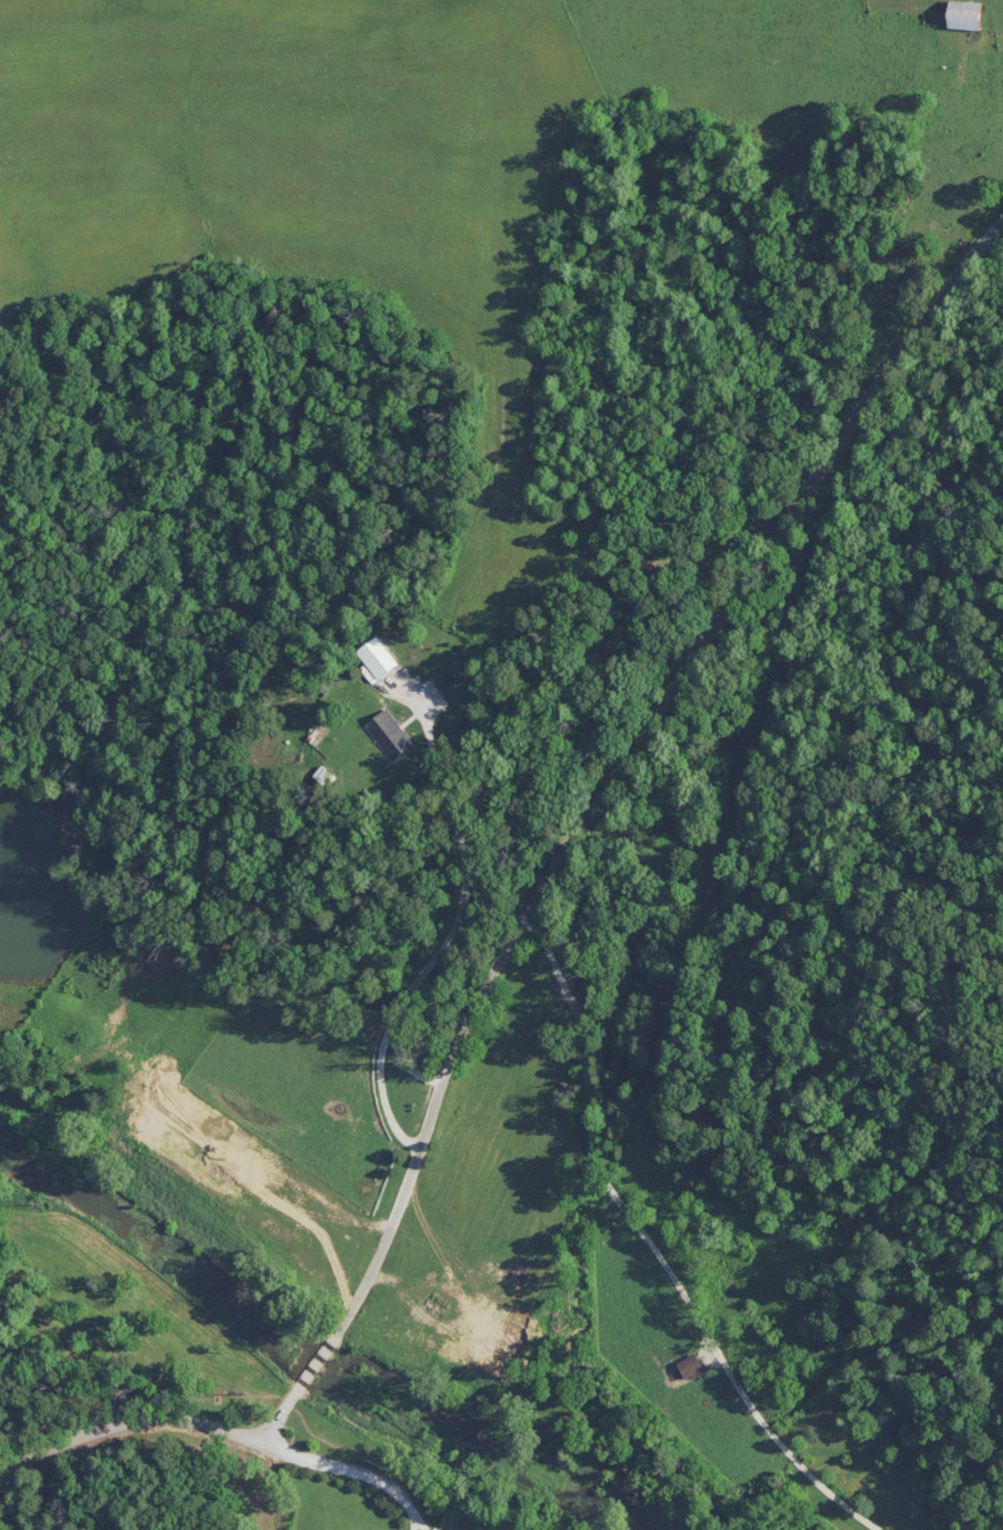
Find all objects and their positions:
building: (975, 15)
building: (390, 734)
road: (591, 817)
road: (660, 1262)
building: (692, 1365)
river: (368, 1388)
building: (290, 1396)
road: (123, 1422)
building: (893, 1426)
road: (353, 1471)
building: (889, 1493)
park: (327, 1515)
road: (421, 1526)

